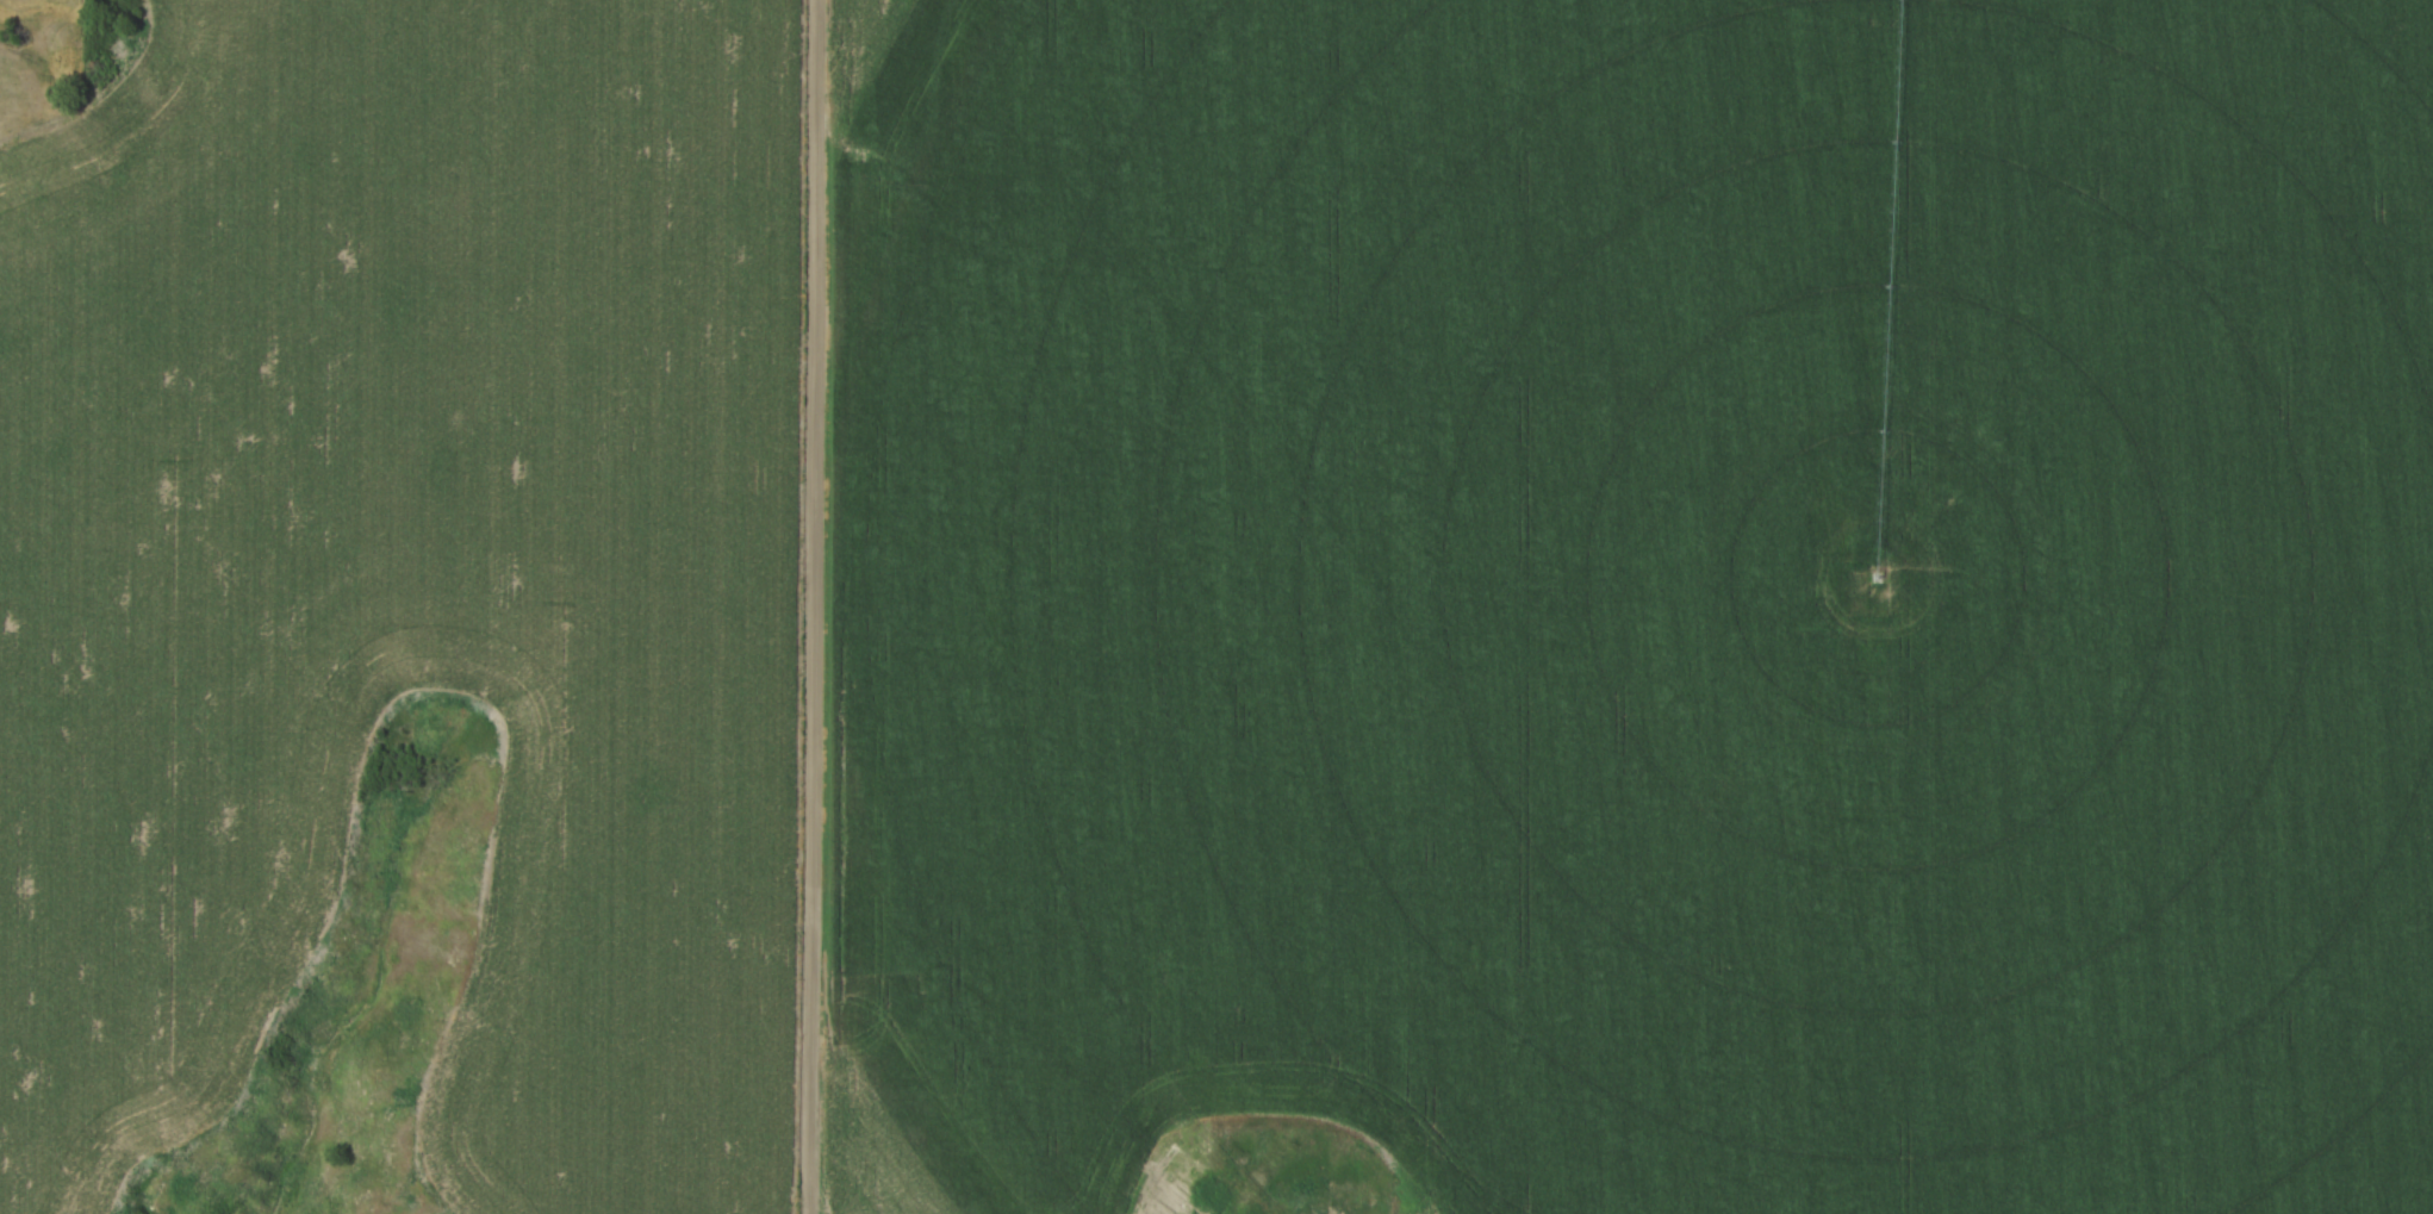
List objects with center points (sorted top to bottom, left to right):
crop: (404, 571)
road: (817, 606)

